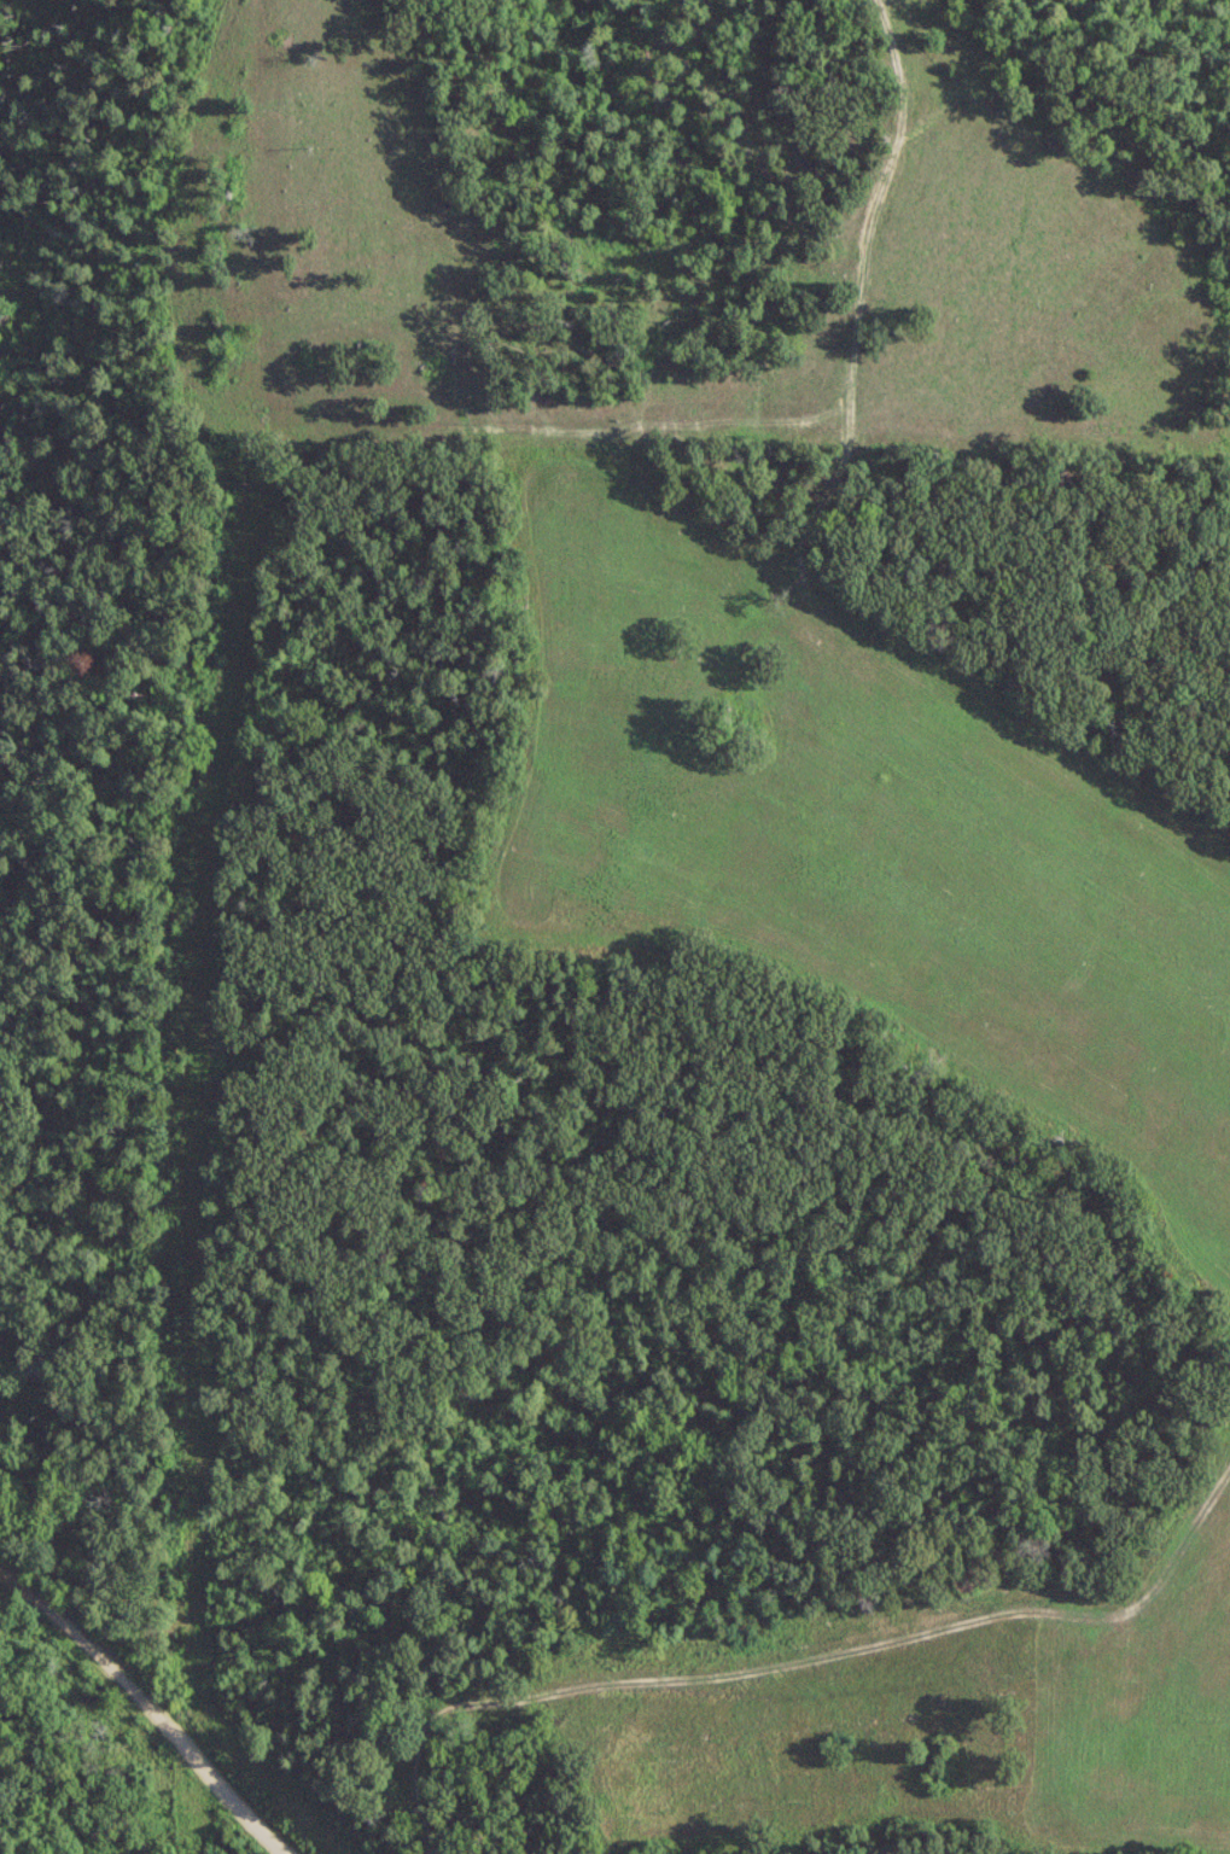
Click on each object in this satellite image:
road: (150, 1704)

